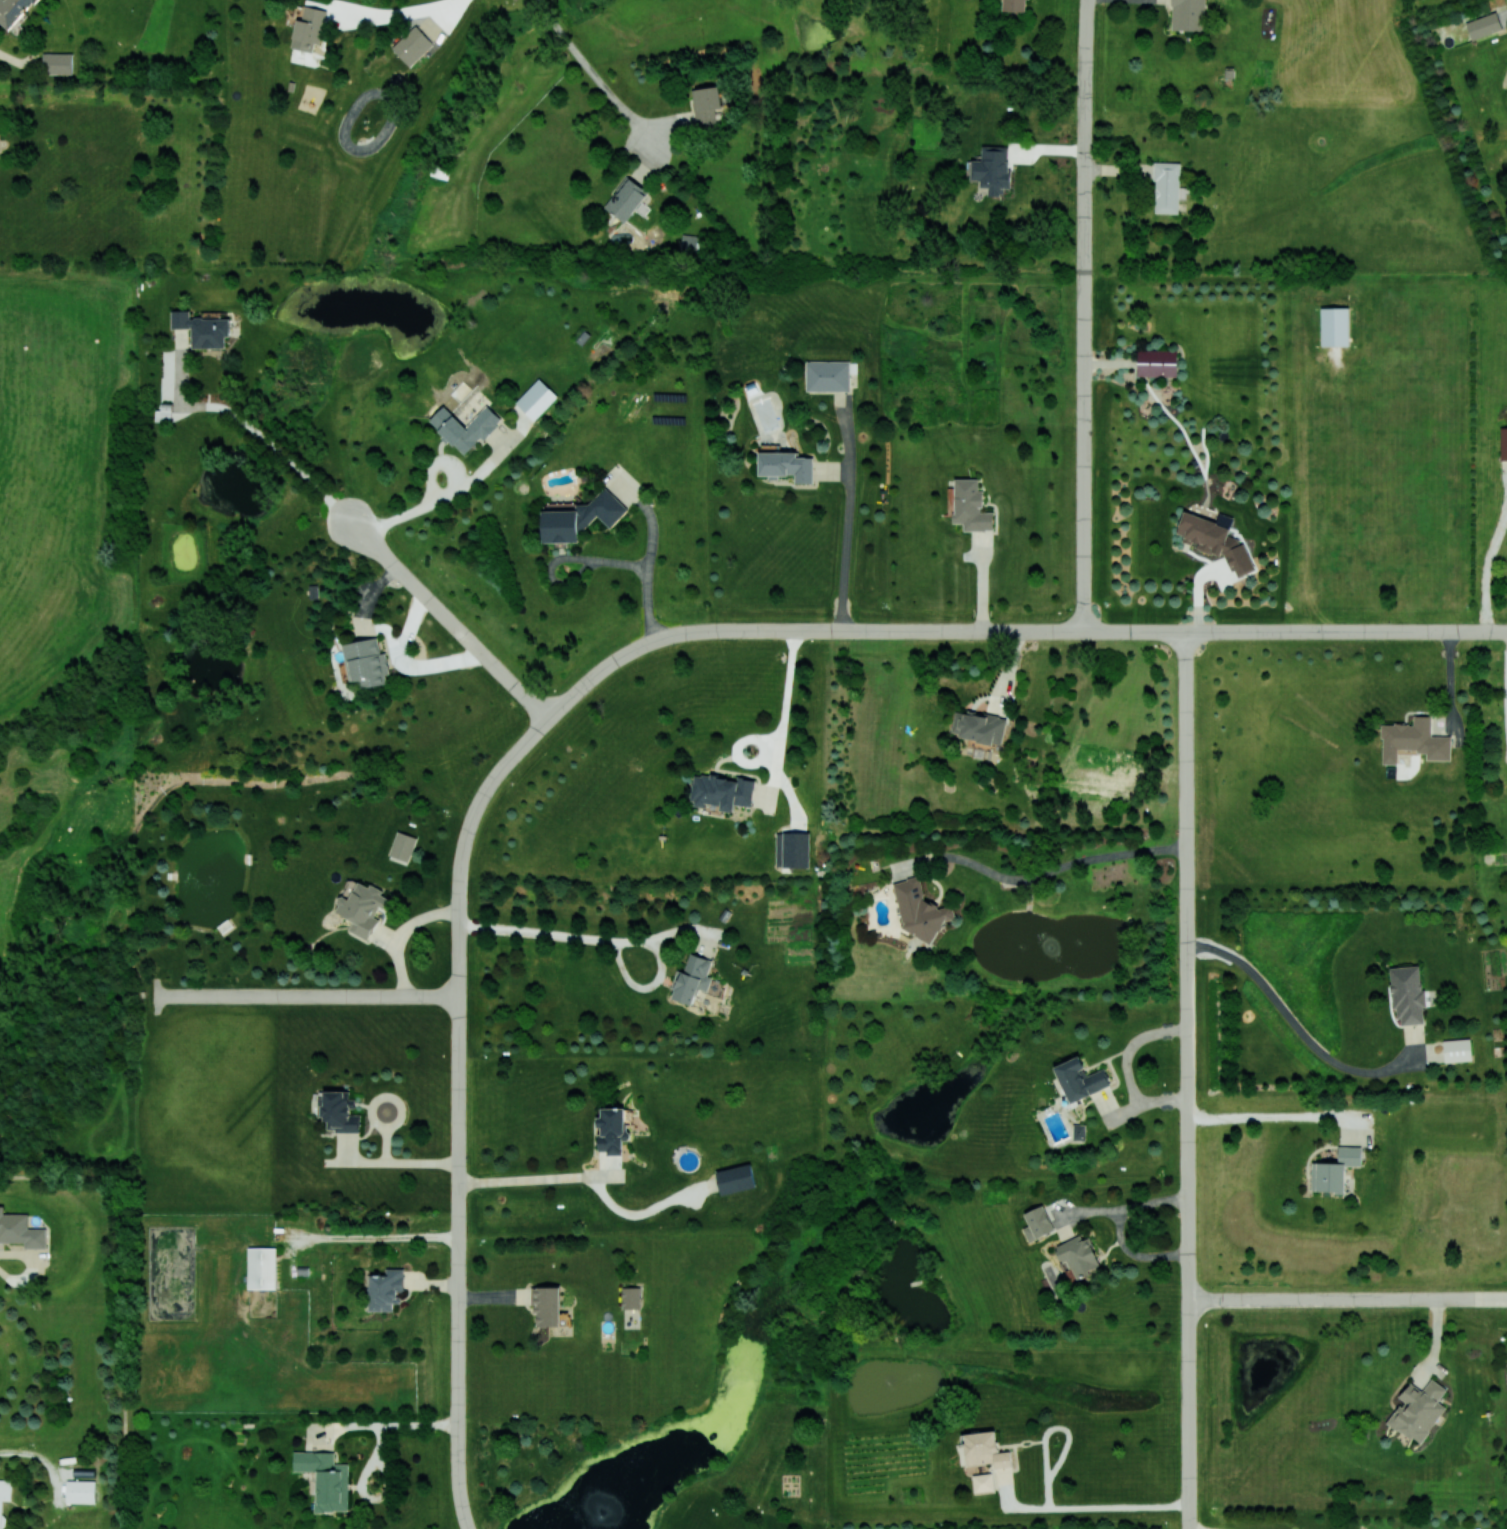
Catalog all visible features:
building: (1015, 5)
building: (13, 11)
road: (407, 11)
building: (1188, 15)
building: (1483, 25)
building: (309, 29)
building: (412, 45)
building: (57, 63)
road: (588, 65)
building: (707, 104)
building: (992, 169)
building: (1168, 187)
building: (626, 199)
building: (689, 244)
road: (1085, 315)
building: (1334, 326)
building: (202, 329)
building: (1157, 362)
building: (828, 375)
building: (536, 399)
building: (465, 427)
road: (270, 443)
building: (1503, 443)
building: (786, 465)
road: (443, 495)
building: (970, 506)
building: (581, 517)
road: (847, 535)
building: (1216, 540)
road: (1486, 570)
road: (647, 583)
road: (448, 620)
road: (1196, 631)
road: (855, 632)
road: (671, 636)
building: (366, 662)
building: (979, 726)
building: (1414, 740)
road: (779, 743)
building: (722, 791)
building: (402, 846)
building: (792, 849)
road: (1042, 874)
building: (362, 909)
building: (920, 910)
fountain: (1104, 936)
road: (612, 940)
building: (692, 979)
building: (1407, 993)
road: (307, 996)
road: (1297, 1025)
building: (1457, 1050)
building: (1080, 1079)
road: (1187, 1079)
road: (460, 1110)
building: (340, 1111)
road: (1279, 1117)
building: (612, 1129)
building: (1078, 1132)
road: (405, 1162)
building: (1335, 1170)
building: (736, 1178)
road: (529, 1179)
building: (1037, 1223)
building: (20, 1230)
road: (1120, 1230)
road: (383, 1237)
building: (1079, 1255)
building: (262, 1267)
building: (386, 1289)
building: (631, 1297)
road: (1346, 1300)
road: (1506, 1300)
building: (547, 1306)
building: (1418, 1410)
road: (385, 1424)
building: (985, 1449)
building: (326, 1479)
building: (983, 1482)
building: (81, 1491)
building: (4, 1495)
road: (1092, 1508)

